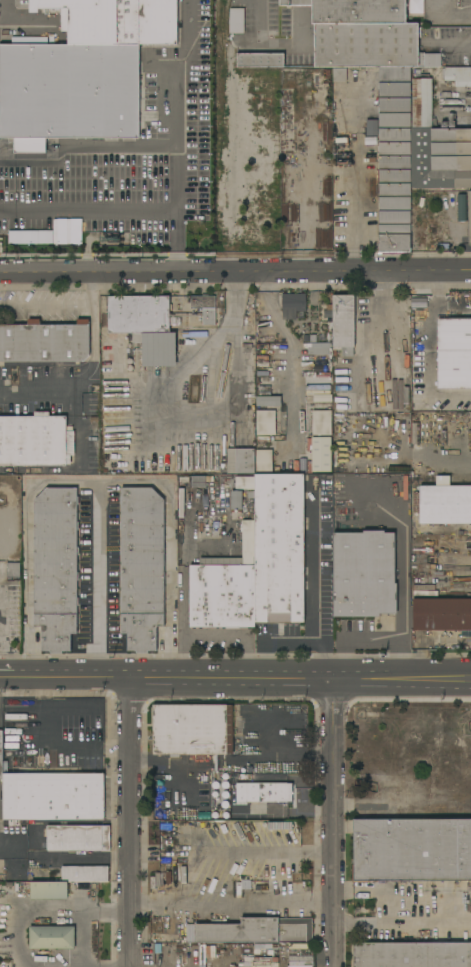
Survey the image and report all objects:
building: (415, 7)
road: (446, 15)
building: (236, 20)
road: (294, 20)
road: (451, 46)
building: (260, 60)
building: (81, 72)
road: (171, 72)
building: (339, 75)
building: (458, 75)
building: (423, 104)
building: (396, 126)
road: (80, 149)
building: (441, 159)
road: (360, 180)
building: (461, 208)
road: (118, 212)
building: (470, 218)
road: (235, 270)
road: (437, 288)
road: (235, 295)
road: (61, 304)
building: (292, 305)
building: (205, 308)
road: (384, 316)
building: (344, 324)
building: (144, 326)
building: (194, 335)
building: (44, 342)
building: (317, 348)
road: (427, 351)
road: (93, 353)
building: (454, 354)
building: (263, 361)
building: (268, 394)
road: (36, 397)
building: (321, 399)
building: (266, 423)
building: (322, 423)
building: (36, 441)
building: (240, 458)
building: (264, 462)
building: (324, 467)
building: (465, 475)
building: (201, 481)
road: (97, 483)
building: (245, 483)
building: (236, 501)
building: (443, 504)
building: (9, 513)
building: (257, 564)
building: (56, 567)
building: (142, 567)
building: (13, 570)
building: (364, 574)
road: (101, 581)
road: (313, 582)
road: (184, 612)
building: (442, 615)
road: (1, 630)
road: (234, 639)
road: (275, 644)
building: (459, 647)
road: (235, 679)
building: (193, 729)
road: (55, 744)
road: (174, 766)
building: (265, 792)
building: (377, 794)
building: (51, 795)
building: (402, 813)
road: (131, 823)
road: (333, 823)
building: (78, 838)
building: (277, 849)
road: (9, 850)
building: (412, 851)
building: (272, 858)
building: (84, 874)
building: (250, 877)
building: (246, 888)
building: (49, 890)
road: (52, 911)
road: (402, 928)
building: (253, 931)
building: (52, 937)
building: (301, 946)
building: (412, 954)
building: (301, 958)

